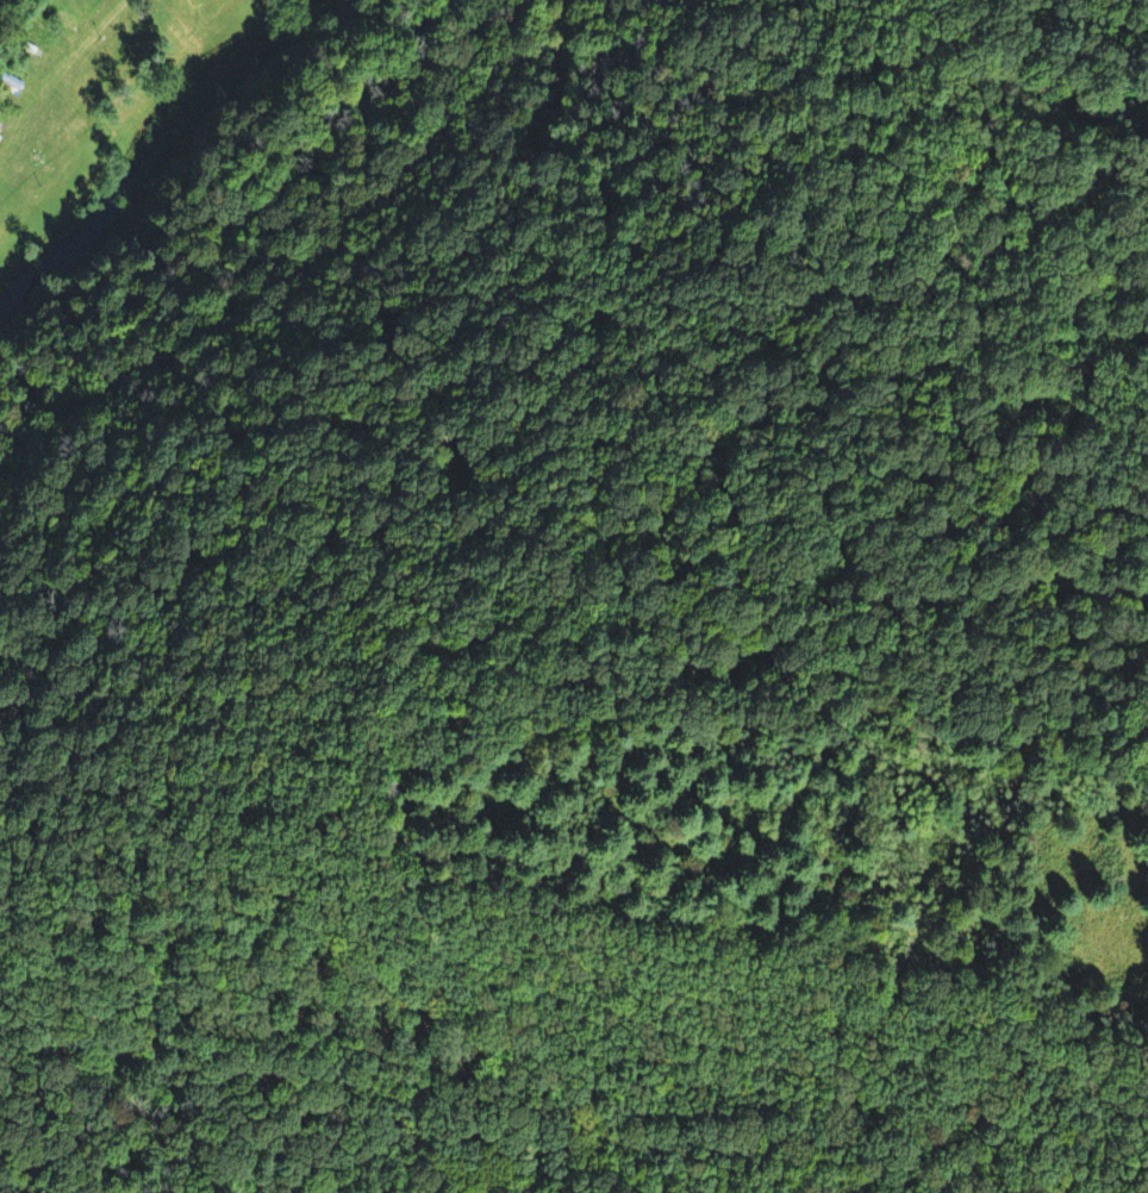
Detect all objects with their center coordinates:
road: (222, 176)
road: (281, 250)

